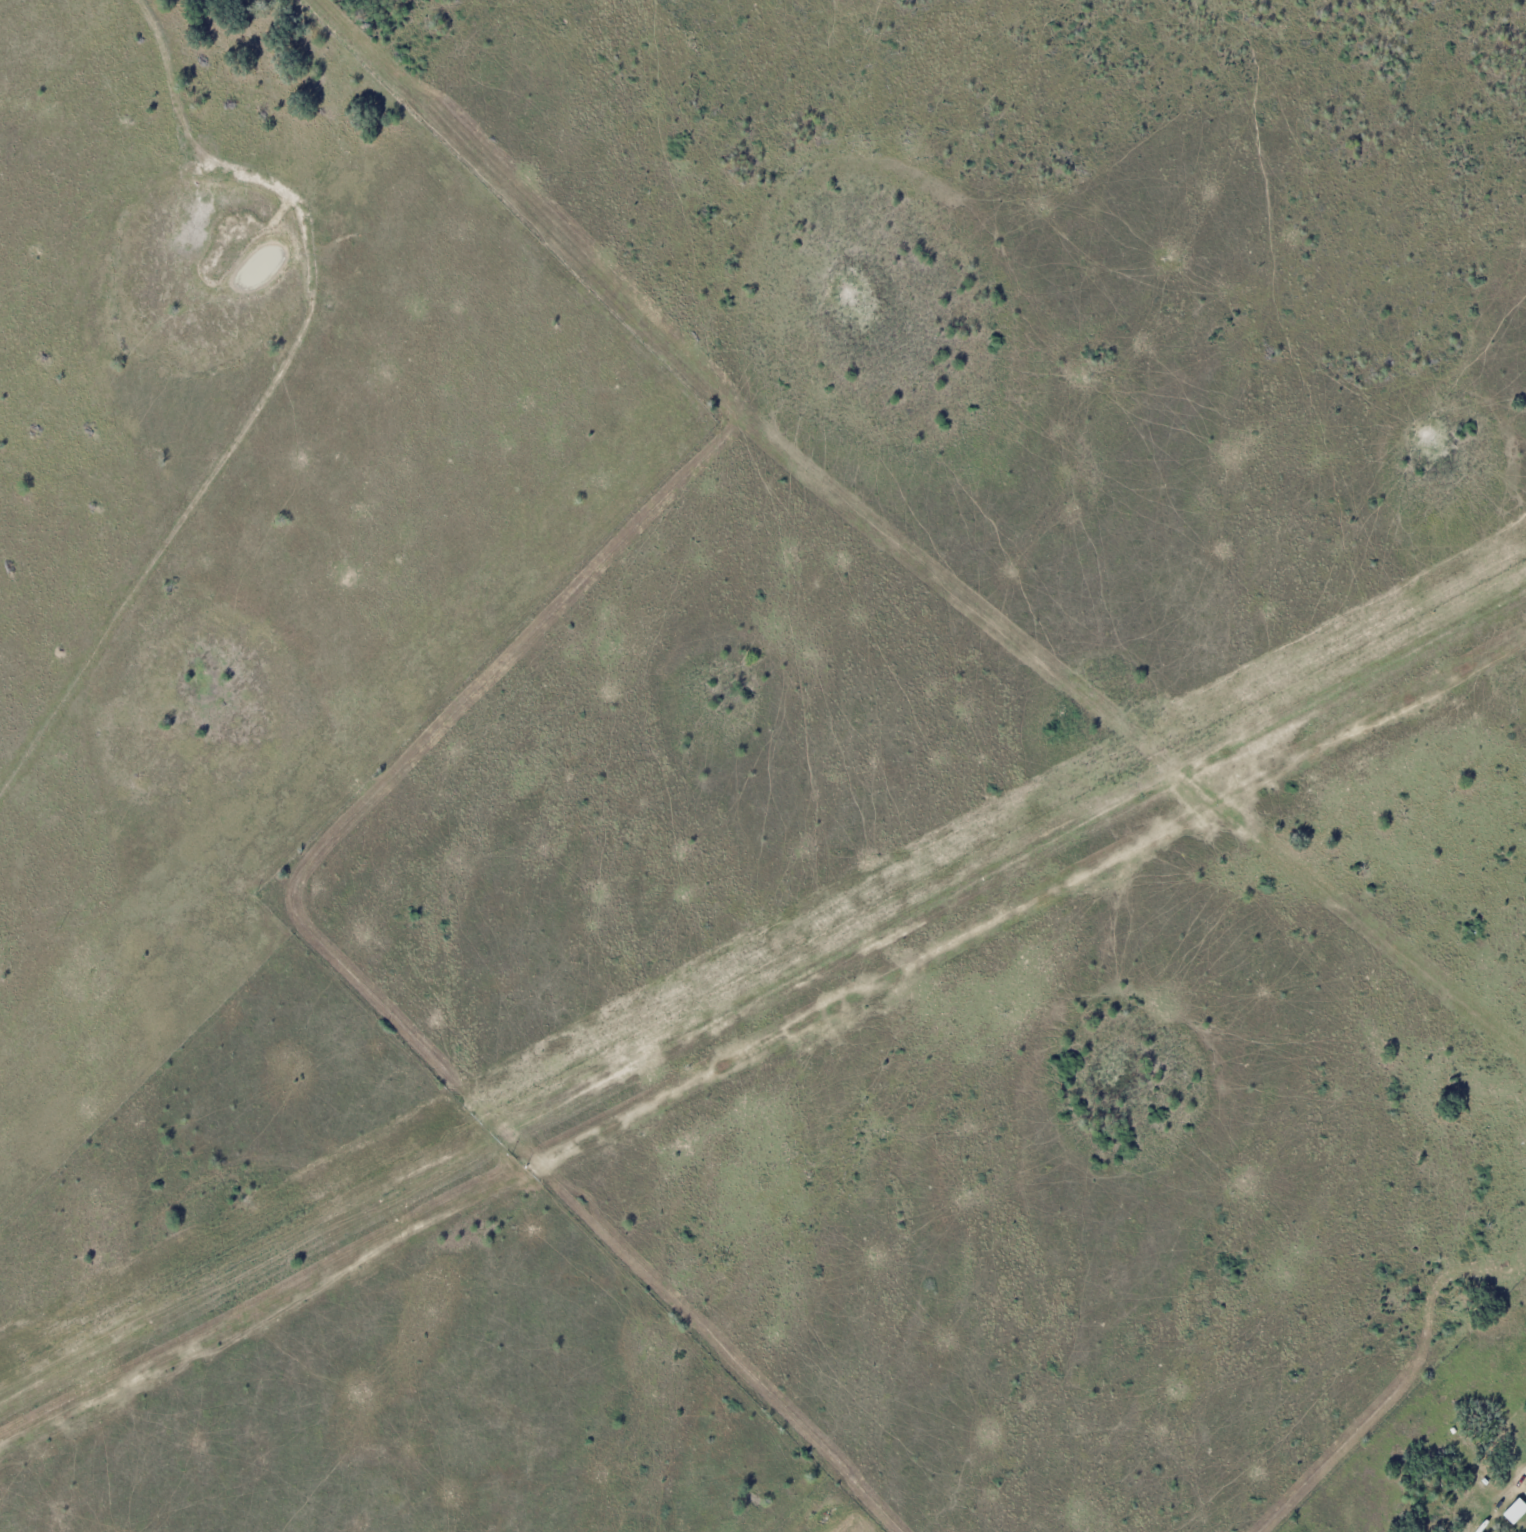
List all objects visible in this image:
road: (1507, 1292)
building: (1514, 1512)

